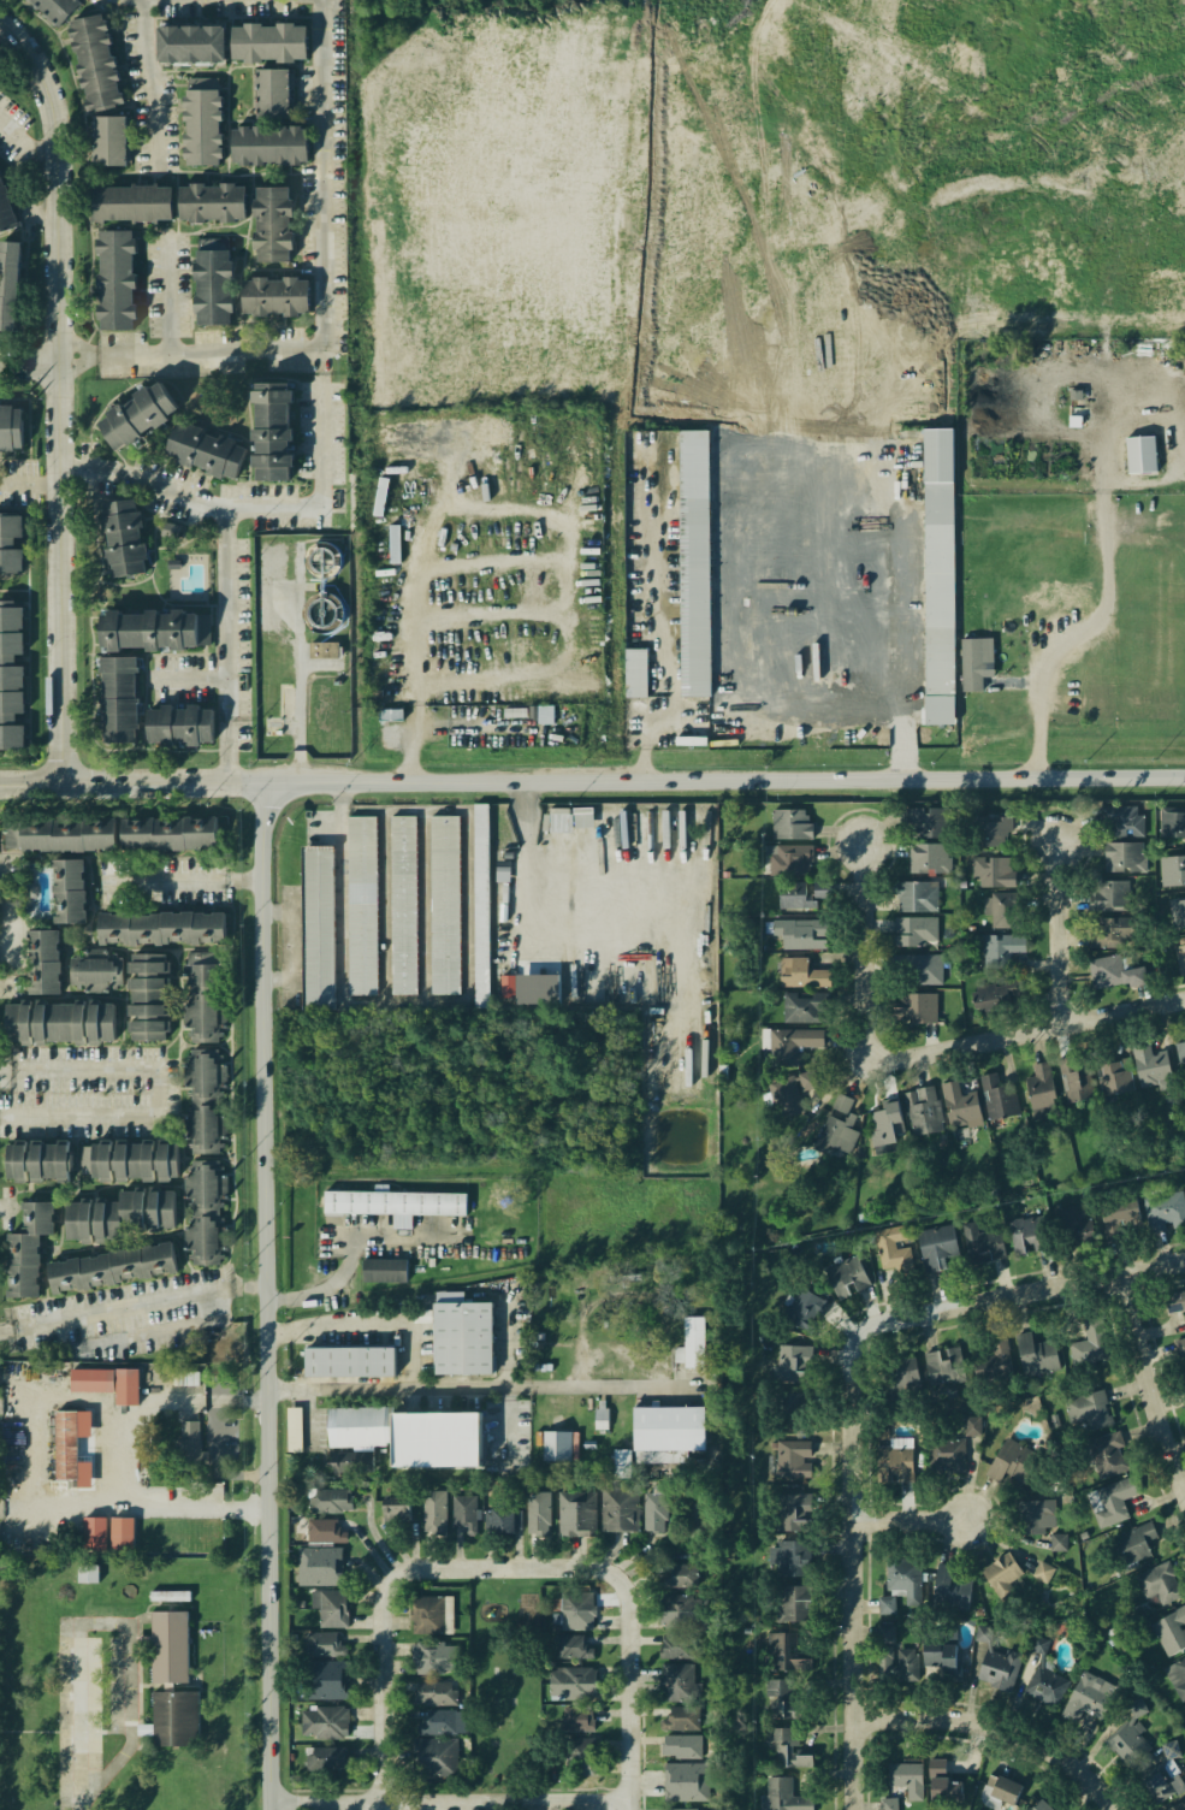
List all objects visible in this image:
building: (58, 8)
building: (269, 42)
building: (194, 43)
building: (96, 63)
road: (149, 78)
parking lot: (148, 91)
building: (275, 94)
road: (825, 102)
building: (200, 123)
building: (111, 140)
road: (29, 144)
building: (271, 144)
road: (360, 144)
parking lot: (327, 150)
building: (131, 202)
building: (213, 202)
building: (4, 213)
building: (269, 223)
building: (117, 279)
building: (10, 285)
building: (213, 286)
road: (344, 290)
building: (275, 296)
road: (172, 297)
road: (884, 320)
road: (197, 354)
parking lot: (237, 354)
road: (34, 362)
road: (328, 383)
road: (69, 384)
building: (138, 415)
building: (7, 425)
building: (273, 431)
road: (879, 446)
building: (206, 450)
building: (1137, 454)
parking lot: (19, 481)
road: (36, 484)
road: (1103, 520)
building: (124, 537)
building: (10, 544)
building: (315, 558)
storage tank: (315, 558)
road: (517, 558)
building: (691, 575)
building: (934, 576)
building: (315, 610)
storage tank: (315, 610)
building: (149, 629)
building: (203, 629)
road: (226, 646)
building: (324, 650)
building: (973, 661)
building: (632, 673)
building: (11, 675)
parking lot: (179, 676)
road: (196, 678)
building: (119, 699)
road: (304, 706)
building: (389, 712)
building: (523, 714)
road: (774, 722)
building: (180, 724)
road: (413, 750)
road: (647, 753)
road: (131, 777)
road: (723, 780)
building: (916, 817)
building: (582, 818)
building: (555, 822)
building: (1118, 822)
building: (1171, 822)
building: (789, 823)
building: (105, 829)
building: (984, 833)
building: (922, 856)
building: (1119, 856)
building: (792, 860)
road: (4, 864)
building: (1171, 870)
building: (989, 871)
road: (186, 877)
parking lot: (165, 879)
building: (913, 894)
building: (1103, 895)
building: (481, 901)
building: (793, 901)
building: (444, 904)
building: (402, 905)
building: (359, 906)
building: (996, 912)
building: (1171, 913)
building: (128, 917)
building: (314, 925)
building: (911, 931)
road: (1063, 933)
building: (1100, 933)
building: (798, 934)
road: (286, 946)
building: (1001, 946)
road: (867, 953)
building: (1177, 958)
building: (40, 962)
building: (911, 969)
building: (89, 974)
building: (796, 974)
building: (1109, 976)
building: (509, 986)
building: (147, 995)
building: (990, 998)
building: (202, 1000)
building: (799, 1008)
building: (910, 1010)
building: (57, 1022)
road: (263, 1031)
building: (1184, 1031)
road: (1027, 1033)
building: (794, 1045)
building: (694, 1057)
building: (1179, 1058)
building: (1142, 1065)
building: (201, 1072)
building: (1108, 1072)
building: (1073, 1080)
road: (156, 1086)
building: (1036, 1086)
parking lot: (87, 1092)
building: (996, 1093)
building: (784, 1100)
building: (958, 1105)
building: (922, 1112)
building: (884, 1123)
building: (200, 1126)
building: (836, 1129)
building: (131, 1160)
building: (32, 1163)
building: (390, 1201)
building: (144, 1207)
building: (1162, 1209)
building: (205, 1211)
building: (1118, 1211)
building: (34, 1217)
building: (1067, 1220)
building: (89, 1222)
building: (1026, 1230)
building: (982, 1238)
building: (936, 1244)
building: (893, 1248)
road: (355, 1258)
building: (14, 1265)
building: (112, 1266)
building: (384, 1272)
building: (846, 1276)
road: (1061, 1285)
road: (630, 1299)
building: (1175, 1305)
building: (805, 1308)
road: (132, 1309)
building: (422, 1315)
road: (373, 1321)
road: (156, 1332)
building: (458, 1337)
building: (689, 1342)
building: (1078, 1353)
building: (1037, 1354)
building: (1179, 1356)
building: (989, 1359)
building: (349, 1362)
building: (792, 1362)
building: (943, 1366)
road: (1153, 1374)
building: (899, 1376)
building: (85, 1379)
building: (123, 1388)
road: (389, 1389)
building: (793, 1406)
building: (1088, 1409)
building: (602, 1415)
building: (971, 1424)
building: (665, 1426)
building: (295, 1430)
building: (408, 1437)
building: (64, 1444)
building: (552, 1445)
building: (942, 1454)
building: (1107, 1454)
building: (792, 1455)
building: (186, 1457)
building: (895, 1457)
building: (1013, 1461)
building: (355, 1462)
building: (623, 1463)
road: (94, 1484)
building: (332, 1495)
building: (1115, 1496)
road: (46, 1503)
building: (431, 1507)
building: (618, 1507)
building: (390, 1508)
building: (653, 1509)
building: (790, 1509)
building: (461, 1510)
building: (535, 1510)
building: (573, 1513)
building: (1033, 1513)
road: (912, 1519)
building: (504, 1524)
building: (316, 1531)
building: (120, 1532)
building: (90, 1533)
road: (858, 1533)
building: (1133, 1540)
building: (1059, 1542)
road: (279, 1546)
building: (793, 1557)
road: (426, 1566)
building: (314, 1568)
building: (1000, 1572)
building: (1043, 1572)
building: (88, 1573)
building: (681, 1574)
building: (903, 1575)
building: (1157, 1584)
building: (950, 1587)
building: (793, 1601)
building: (884, 1603)
building: (677, 1607)
building: (330, 1609)
building: (575, 1610)
building: (426, 1614)
building: (883, 1631)
building: (1171, 1631)
building: (319, 1643)
building: (675, 1644)
building: (168, 1645)
building: (565, 1645)
building: (786, 1651)
building: (428, 1657)
building: (941, 1657)
building: (905, 1662)
building: (997, 1667)
building: (1177, 1675)
building: (677, 1680)
building: (318, 1681)
building: (568, 1682)
park: (503, 1684)
building: (1044, 1684)
building: (432, 1694)
road: (1015, 1694)
building: (1090, 1694)
building: (781, 1698)
road: (79, 1708)
building: (681, 1716)
road: (638, 1717)
building: (171, 1719)
building: (434, 1721)
building: (574, 1721)
building: (322, 1722)
road: (1005, 1727)
road: (136, 1729)
building: (1127, 1734)
building: (681, 1744)
building: (788, 1747)
building: (577, 1753)
building: (324, 1759)
building: (433, 1759)
building: (935, 1763)
building: (1161, 1774)
building: (906, 1776)
building: (685, 1780)
building: (942, 1787)
building: (1003, 1787)
building: (782, 1794)
road: (458, 1800)
building: (887, 1803)
building: (1173, 1804)
building: (1036, 1805)
building: (1043, 1805)
building: (683, 1808)

